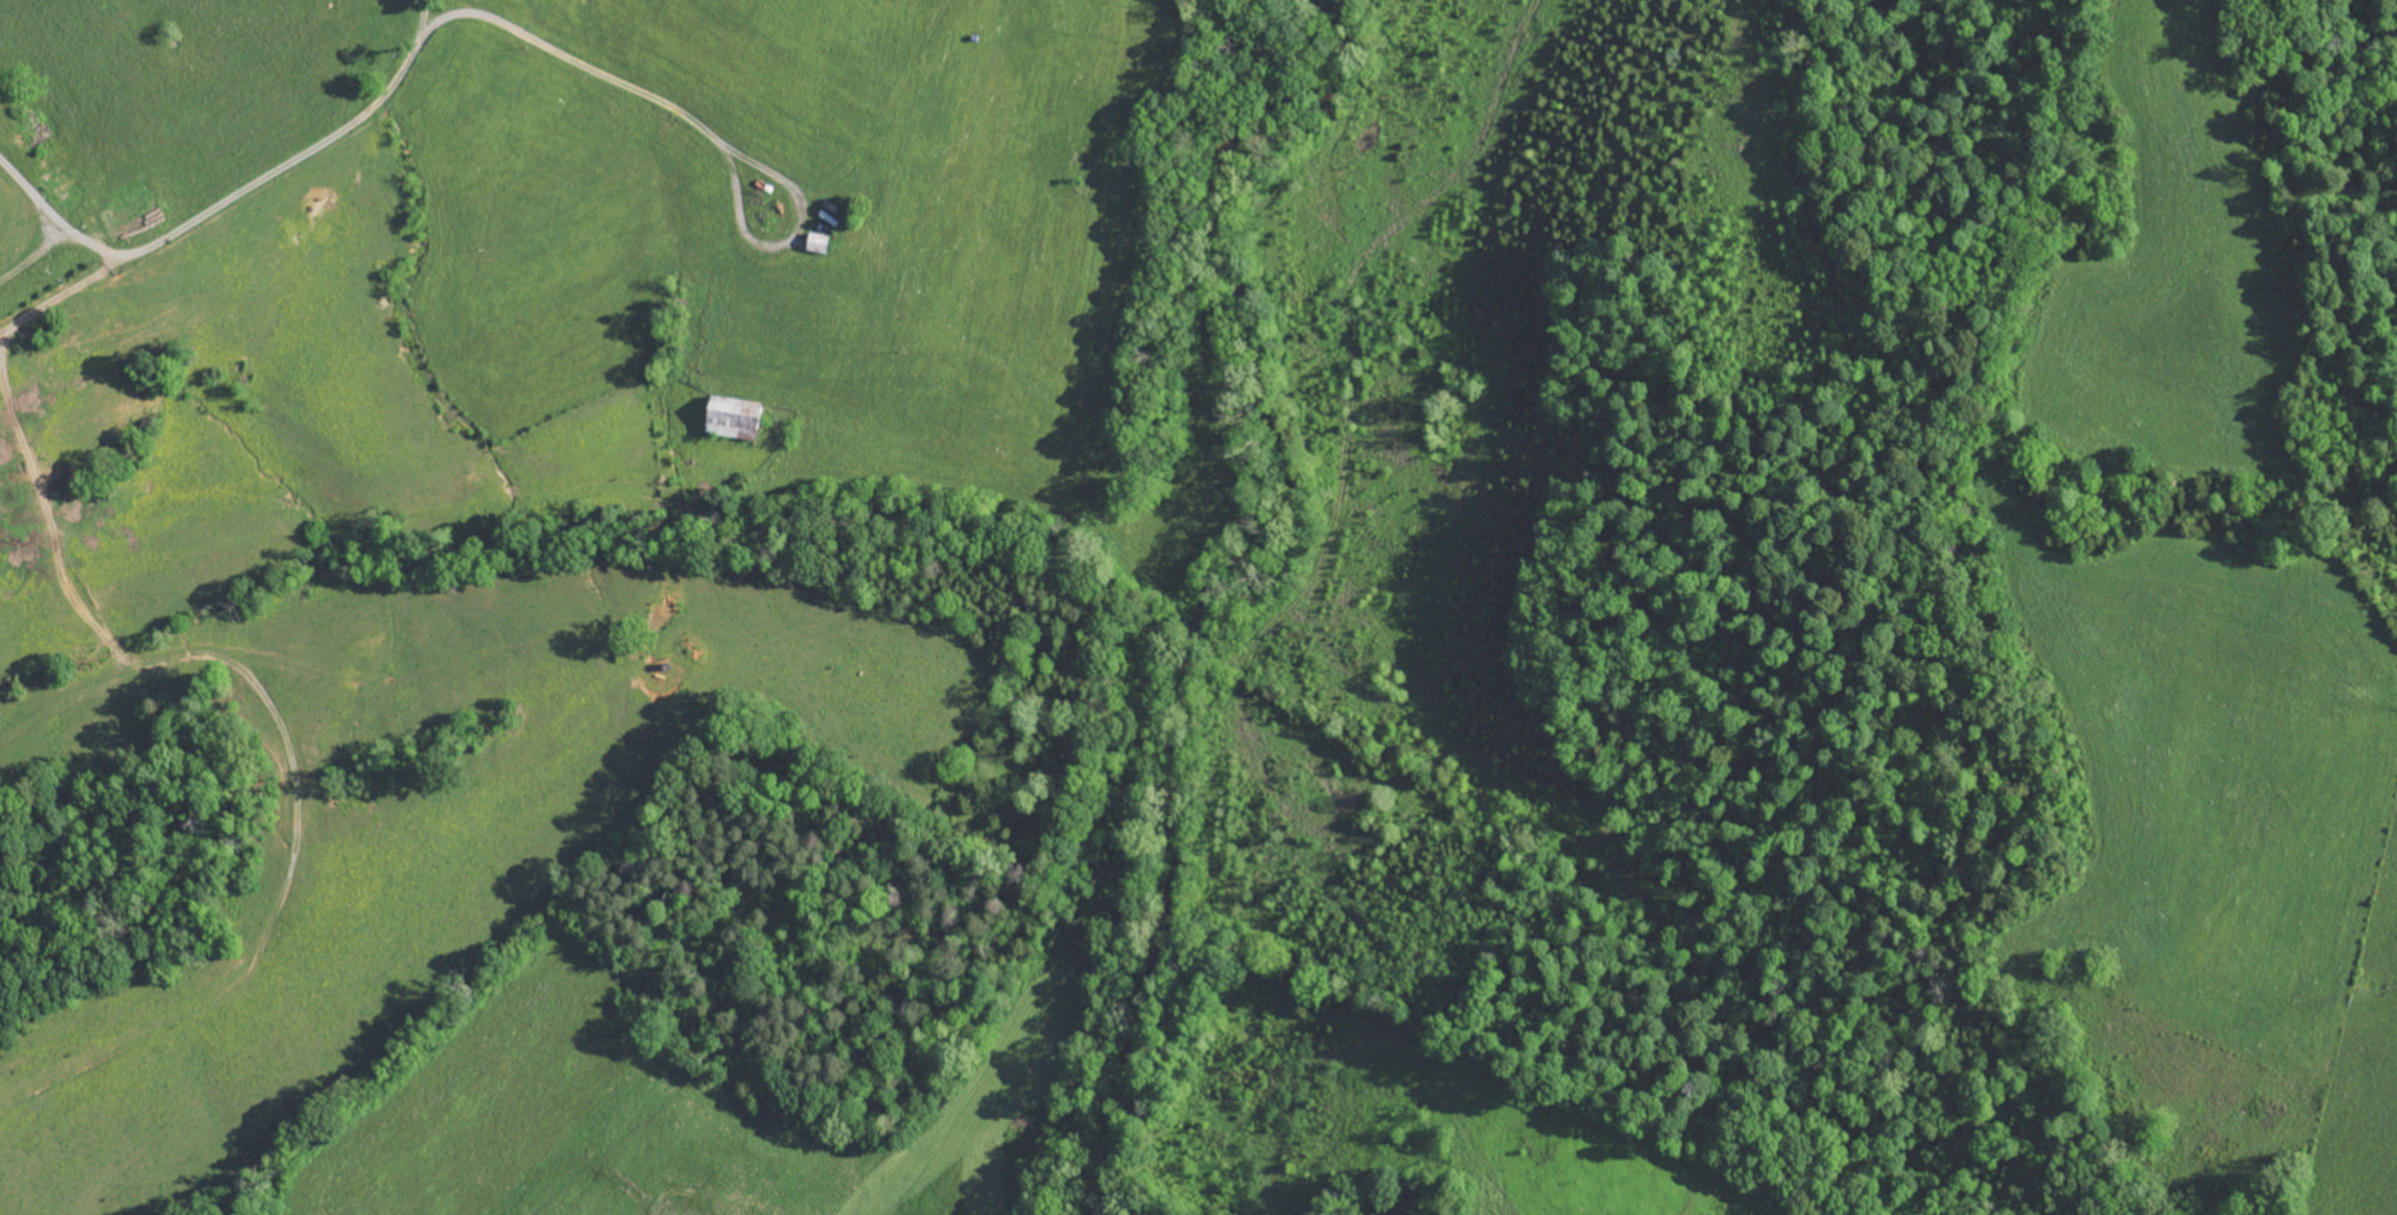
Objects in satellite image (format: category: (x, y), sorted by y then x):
building: (736, 417)

